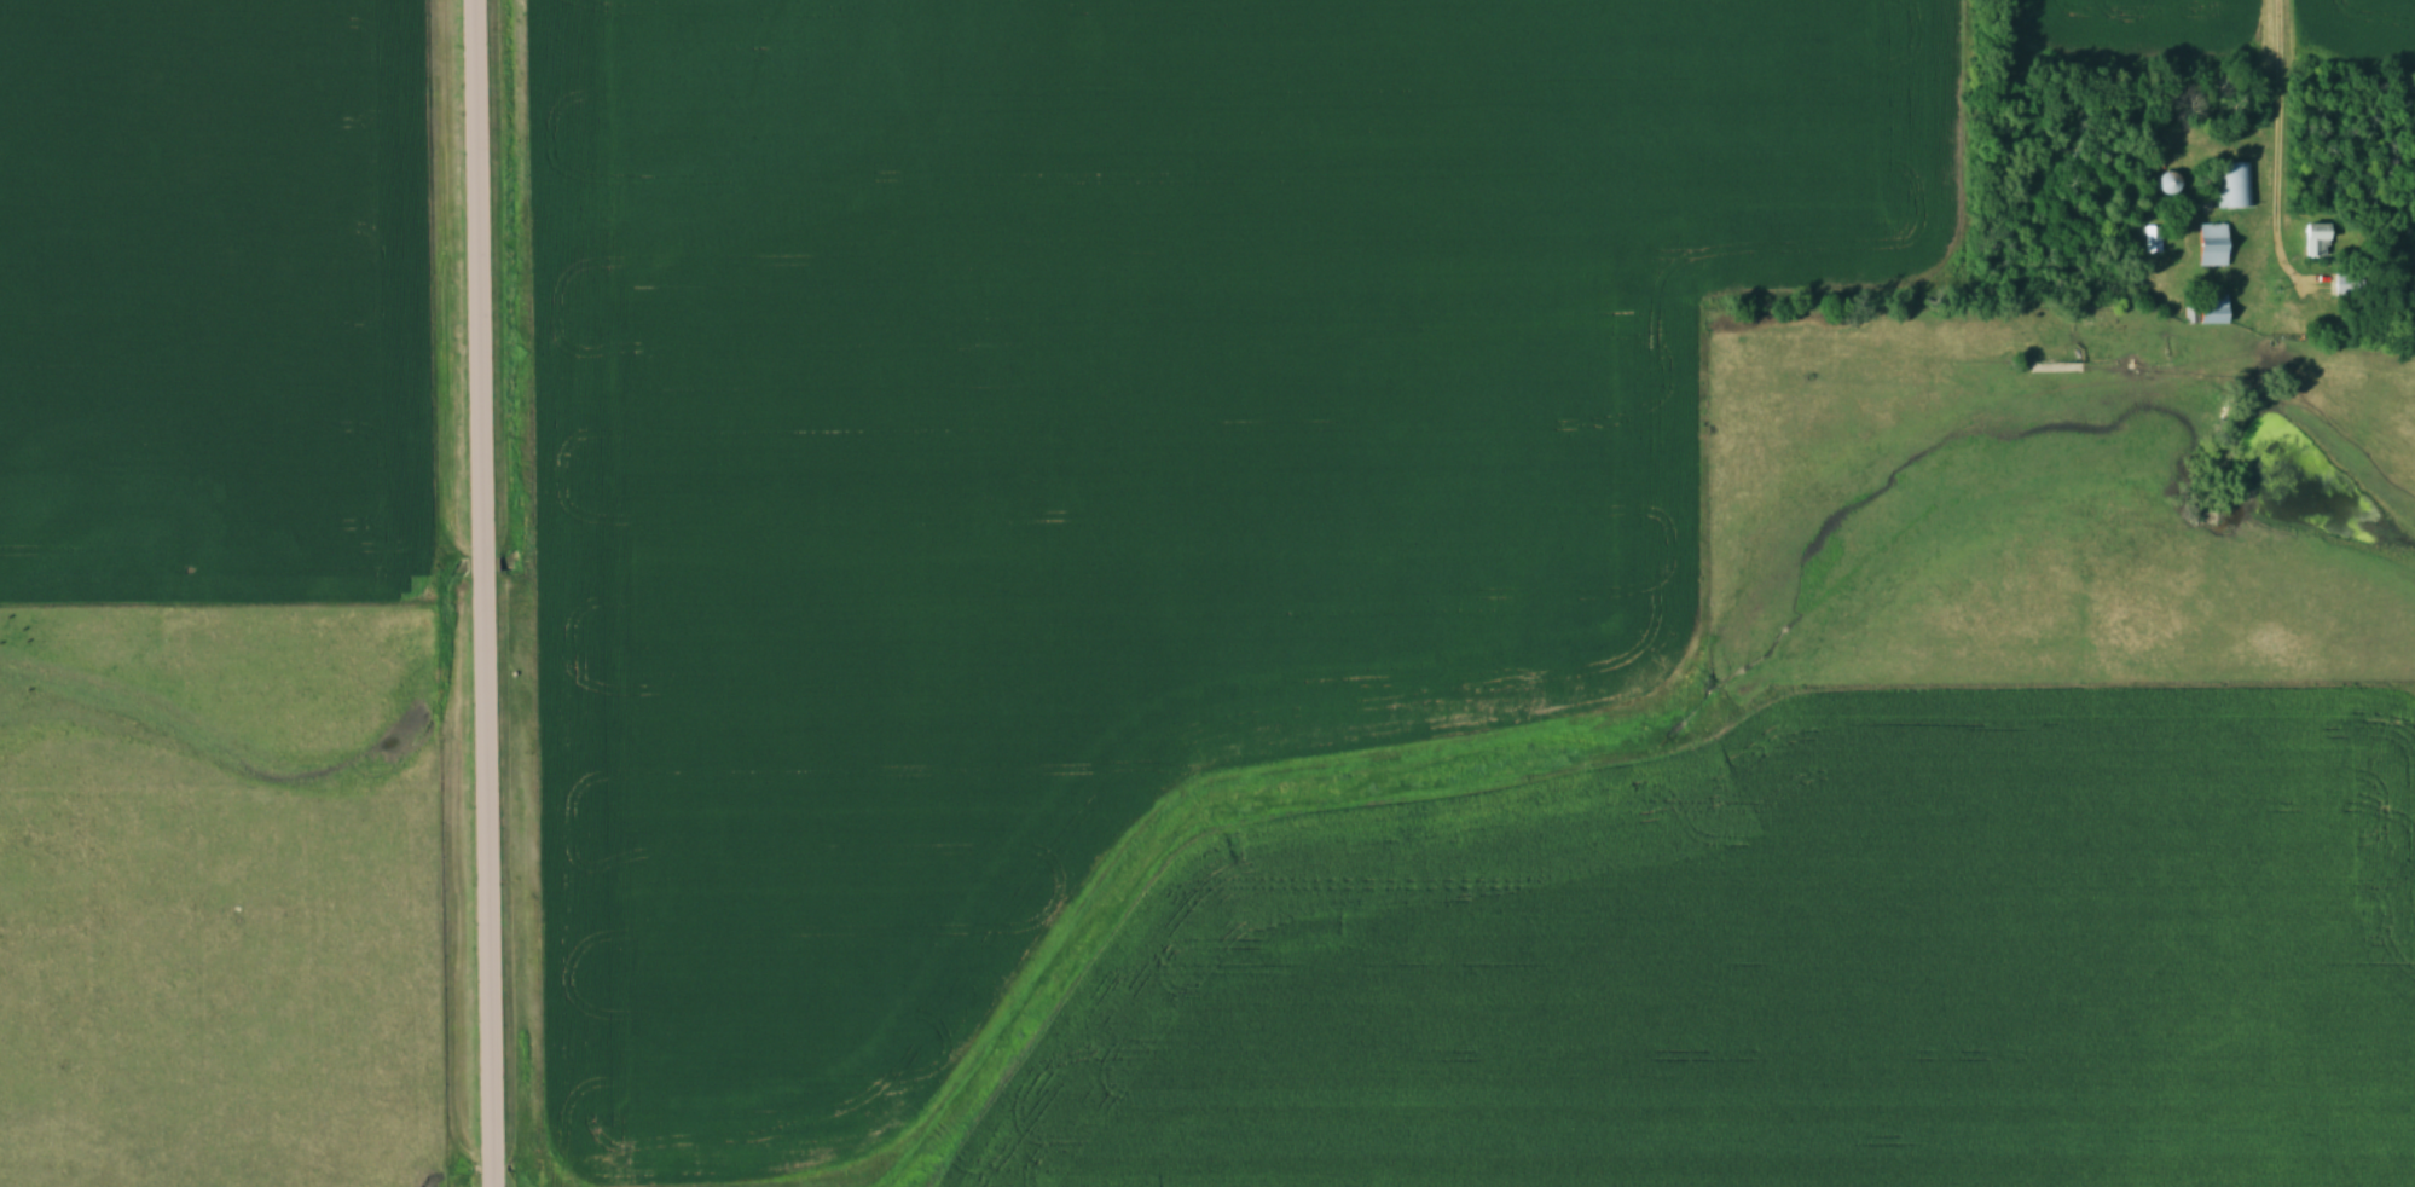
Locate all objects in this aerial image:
road: (2272, 151)
building: (2168, 184)
building: (2239, 186)
building: (2316, 242)
building: (2213, 253)
building: (2213, 317)
road: (479, 592)

